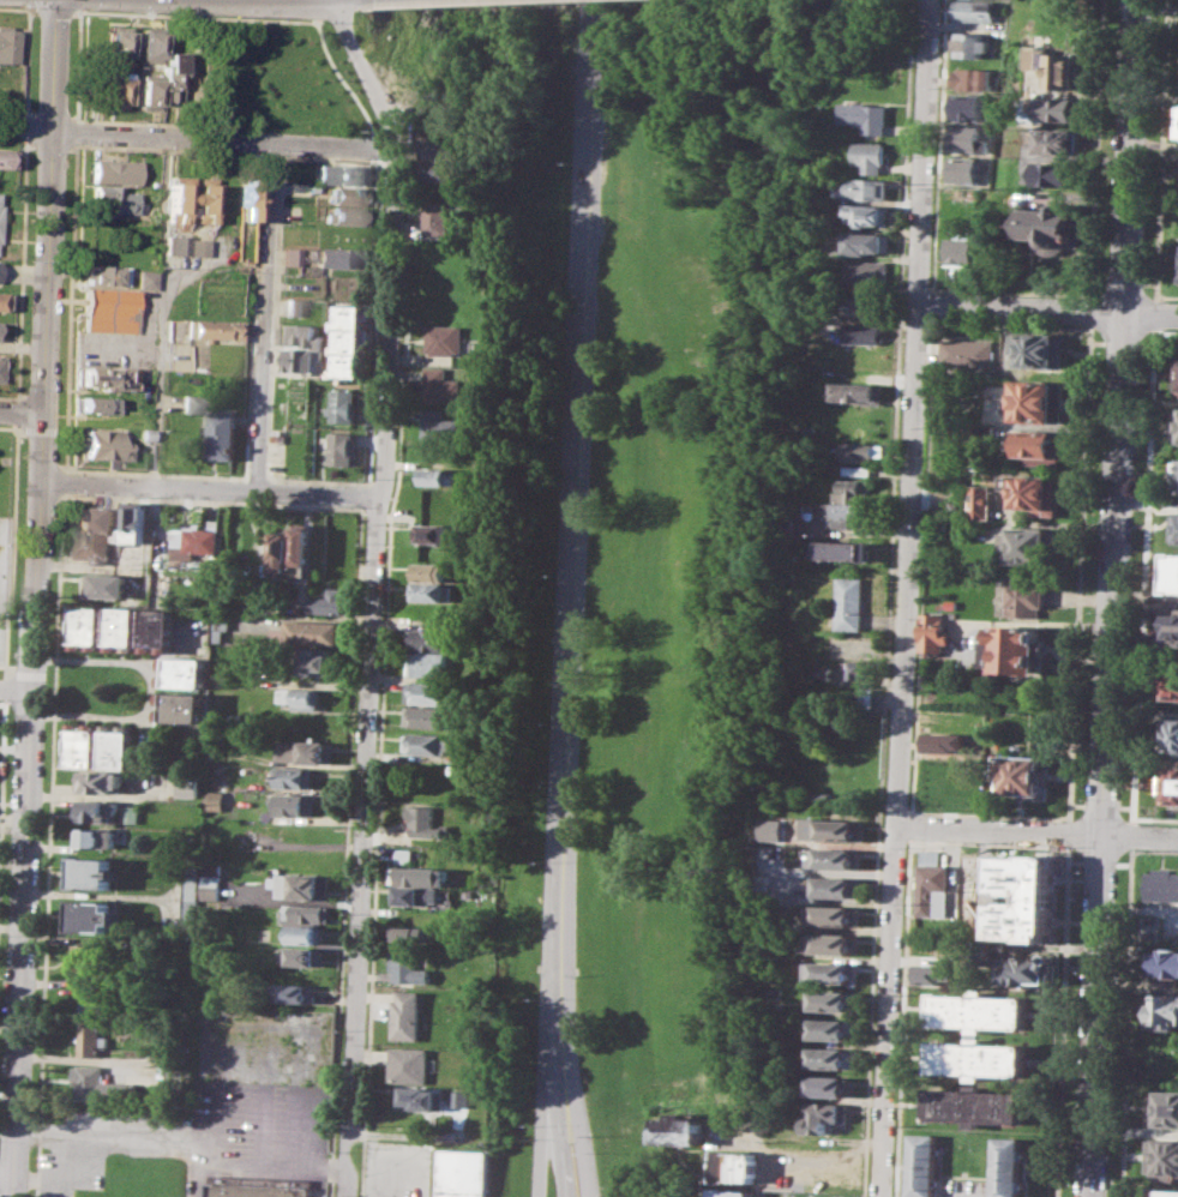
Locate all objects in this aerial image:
road: (82, 4)
road: (32, 8)
road: (315, 8)
building: (973, 10)
road: (54, 11)
road: (78, 11)
road: (206, 16)
road: (315, 20)
building: (8, 43)
building: (116, 44)
building: (967, 44)
building: (148, 46)
road: (28, 48)
building: (1054, 66)
building: (169, 74)
building: (968, 78)
building: (113, 89)
building: (146, 91)
building: (967, 107)
building: (1059, 108)
building: (866, 116)
road: (145, 122)
road: (28, 130)
road: (73, 131)
road: (196, 137)
building: (966, 138)
building: (1177, 138)
building: (1057, 140)
road: (377, 144)
road: (1094, 144)
road: (937, 145)
building: (440, 149)
road: (258, 154)
road: (269, 154)
road: (278, 156)
building: (869, 156)
building: (4, 158)
road: (383, 164)
road: (396, 166)
building: (964, 168)
building: (112, 170)
building: (440, 170)
building: (342, 172)
building: (1056, 173)
building: (866, 188)
building: (345, 196)
building: (110, 198)
building: (199, 198)
building: (178, 199)
building: (246, 199)
building: (345, 215)
building: (867, 215)
building: (439, 216)
road: (256, 217)
building: (1053, 227)
building: (866, 242)
building: (174, 243)
building: (193, 246)
building: (961, 249)
building: (290, 255)
building: (338, 257)
road: (275, 260)
road: (19, 270)
building: (865, 271)
building: (103, 273)
building: (1177, 273)
building: (145, 277)
road: (1096, 279)
road: (1122, 281)
road: (1147, 282)
road: (1010, 291)
road: (1166, 295)
building: (2, 300)
road: (931, 302)
building: (294, 306)
building: (863, 306)
road: (68, 307)
road: (1089, 307)
road: (1046, 308)
building: (110, 309)
road: (158, 311)
road: (264, 315)
road: (930, 319)
road: (910, 320)
road: (927, 321)
building: (209, 330)
building: (860, 332)
road: (1166, 332)
building: (300, 336)
building: (350, 339)
building: (447, 339)
road: (1095, 342)
road: (46, 343)
road: (1119, 343)
road: (1144, 343)
building: (1038, 350)
building: (970, 353)
building: (300, 359)
building: (0, 365)
road: (371, 377)
building: (101, 378)
building: (1177, 381)
building: (444, 385)
building: (855, 392)
road: (7, 396)
building: (1035, 399)
building: (187, 402)
building: (94, 404)
building: (343, 405)
road: (22, 411)
road: (14, 413)
building: (1176, 425)
road: (7, 427)
building: (441, 428)
building: (143, 433)
building: (223, 433)
building: (984, 434)
building: (278, 435)
building: (103, 444)
building: (1033, 446)
building: (342, 447)
building: (860, 451)
road: (256, 464)
building: (855, 470)
road: (161, 474)
building: (1173, 474)
building: (439, 475)
road: (62, 482)
road: (922, 488)
road: (208, 489)
building: (852, 489)
building: (1032, 492)
building: (981, 501)
road: (1146, 503)
park: (599, 506)
building: (842, 512)
building: (134, 523)
building: (942, 525)
building: (1173, 527)
road: (567, 531)
building: (95, 534)
building: (434, 534)
building: (196, 542)
building: (1026, 542)
building: (301, 549)
building: (841, 549)
road: (10, 552)
building: (282, 553)
building: (433, 571)
road: (1078, 572)
building: (1172, 572)
road: (59, 583)
building: (107, 585)
road: (372, 591)
building: (435, 591)
building: (1024, 594)
road: (886, 597)
building: (218, 598)
road: (904, 598)
road: (1110, 598)
road: (1142, 598)
building: (331, 601)
building: (849, 603)
building: (216, 624)
building: (88, 626)
building: (122, 627)
building: (157, 628)
building: (1167, 630)
building: (308, 632)
building: (933, 632)
building: (431, 638)
building: (1012, 649)
building: (317, 661)
road: (2, 663)
building: (429, 663)
building: (858, 670)
building: (182, 672)
road: (8, 673)
building: (821, 673)
road: (29, 674)
road: (49, 675)
road: (381, 679)
road: (16, 685)
building: (1168, 686)
road: (4, 688)
road: (151, 691)
building: (428, 692)
building: (300, 697)
road: (1, 702)
building: (181, 708)
building: (428, 716)
building: (1168, 736)
building: (944, 741)
building: (84, 744)
building: (428, 744)
building: (118, 745)
building: (465, 745)
road: (1, 746)
building: (303, 752)
building: (1022, 772)
building: (293, 776)
building: (100, 780)
building: (1172, 784)
building: (186, 786)
building: (822, 795)
building: (212, 799)
building: (292, 804)
road: (1077, 804)
road: (1100, 805)
road: (1125, 806)
building: (96, 811)
building: (130, 813)
road: (988, 814)
road: (1137, 818)
road: (1159, 818)
building: (425, 822)
road: (910, 826)
building: (834, 828)
road: (1038, 832)
road: (1068, 834)
building: (94, 837)
road: (988, 842)
road: (1155, 849)
building: (403, 855)
building: (834, 858)
road: (1075, 860)
road: (1098, 861)
road: (1124, 862)
building: (92, 873)
building: (419, 874)
building: (209, 882)
building: (932, 883)
building: (1161, 883)
building: (300, 884)
building: (837, 886)
building: (414, 895)
building: (187, 896)
building: (1039, 898)
building: (397, 912)
building: (305, 913)
building: (92, 915)
building: (835, 915)
building: (305, 933)
building: (410, 933)
road: (44, 936)
road: (23, 942)
building: (834, 944)
building: (302, 956)
building: (85, 958)
building: (1164, 962)
building: (405, 964)
building: (831, 970)
building: (1028, 970)
building: (937, 973)
building: (294, 992)
building: (95, 998)
building: (834, 1000)
building: (980, 1010)
building: (1160, 1011)
building: (407, 1015)
road: (902, 1017)
road: (1060, 1021)
building: (831, 1028)
building: (91, 1035)
building: (829, 1057)
building: (978, 1058)
building: (409, 1064)
building: (90, 1082)
building: (829, 1085)
building: (420, 1097)
building: (461, 1099)
building: (975, 1106)
parking lot: (220, 1107)
building: (1162, 1108)
building: (825, 1115)
road: (575, 1130)
building: (680, 1130)
road: (557, 1131)
road: (139, 1133)
road: (542, 1154)
road: (828, 1156)
building: (1162, 1157)
building: (926, 1163)
building: (735, 1166)
building: (1009, 1166)
road: (7, 1167)
road: (275, 1167)
building: (465, 1174)
building: (259, 1190)
building: (734, 1192)
building: (1165, 1192)

